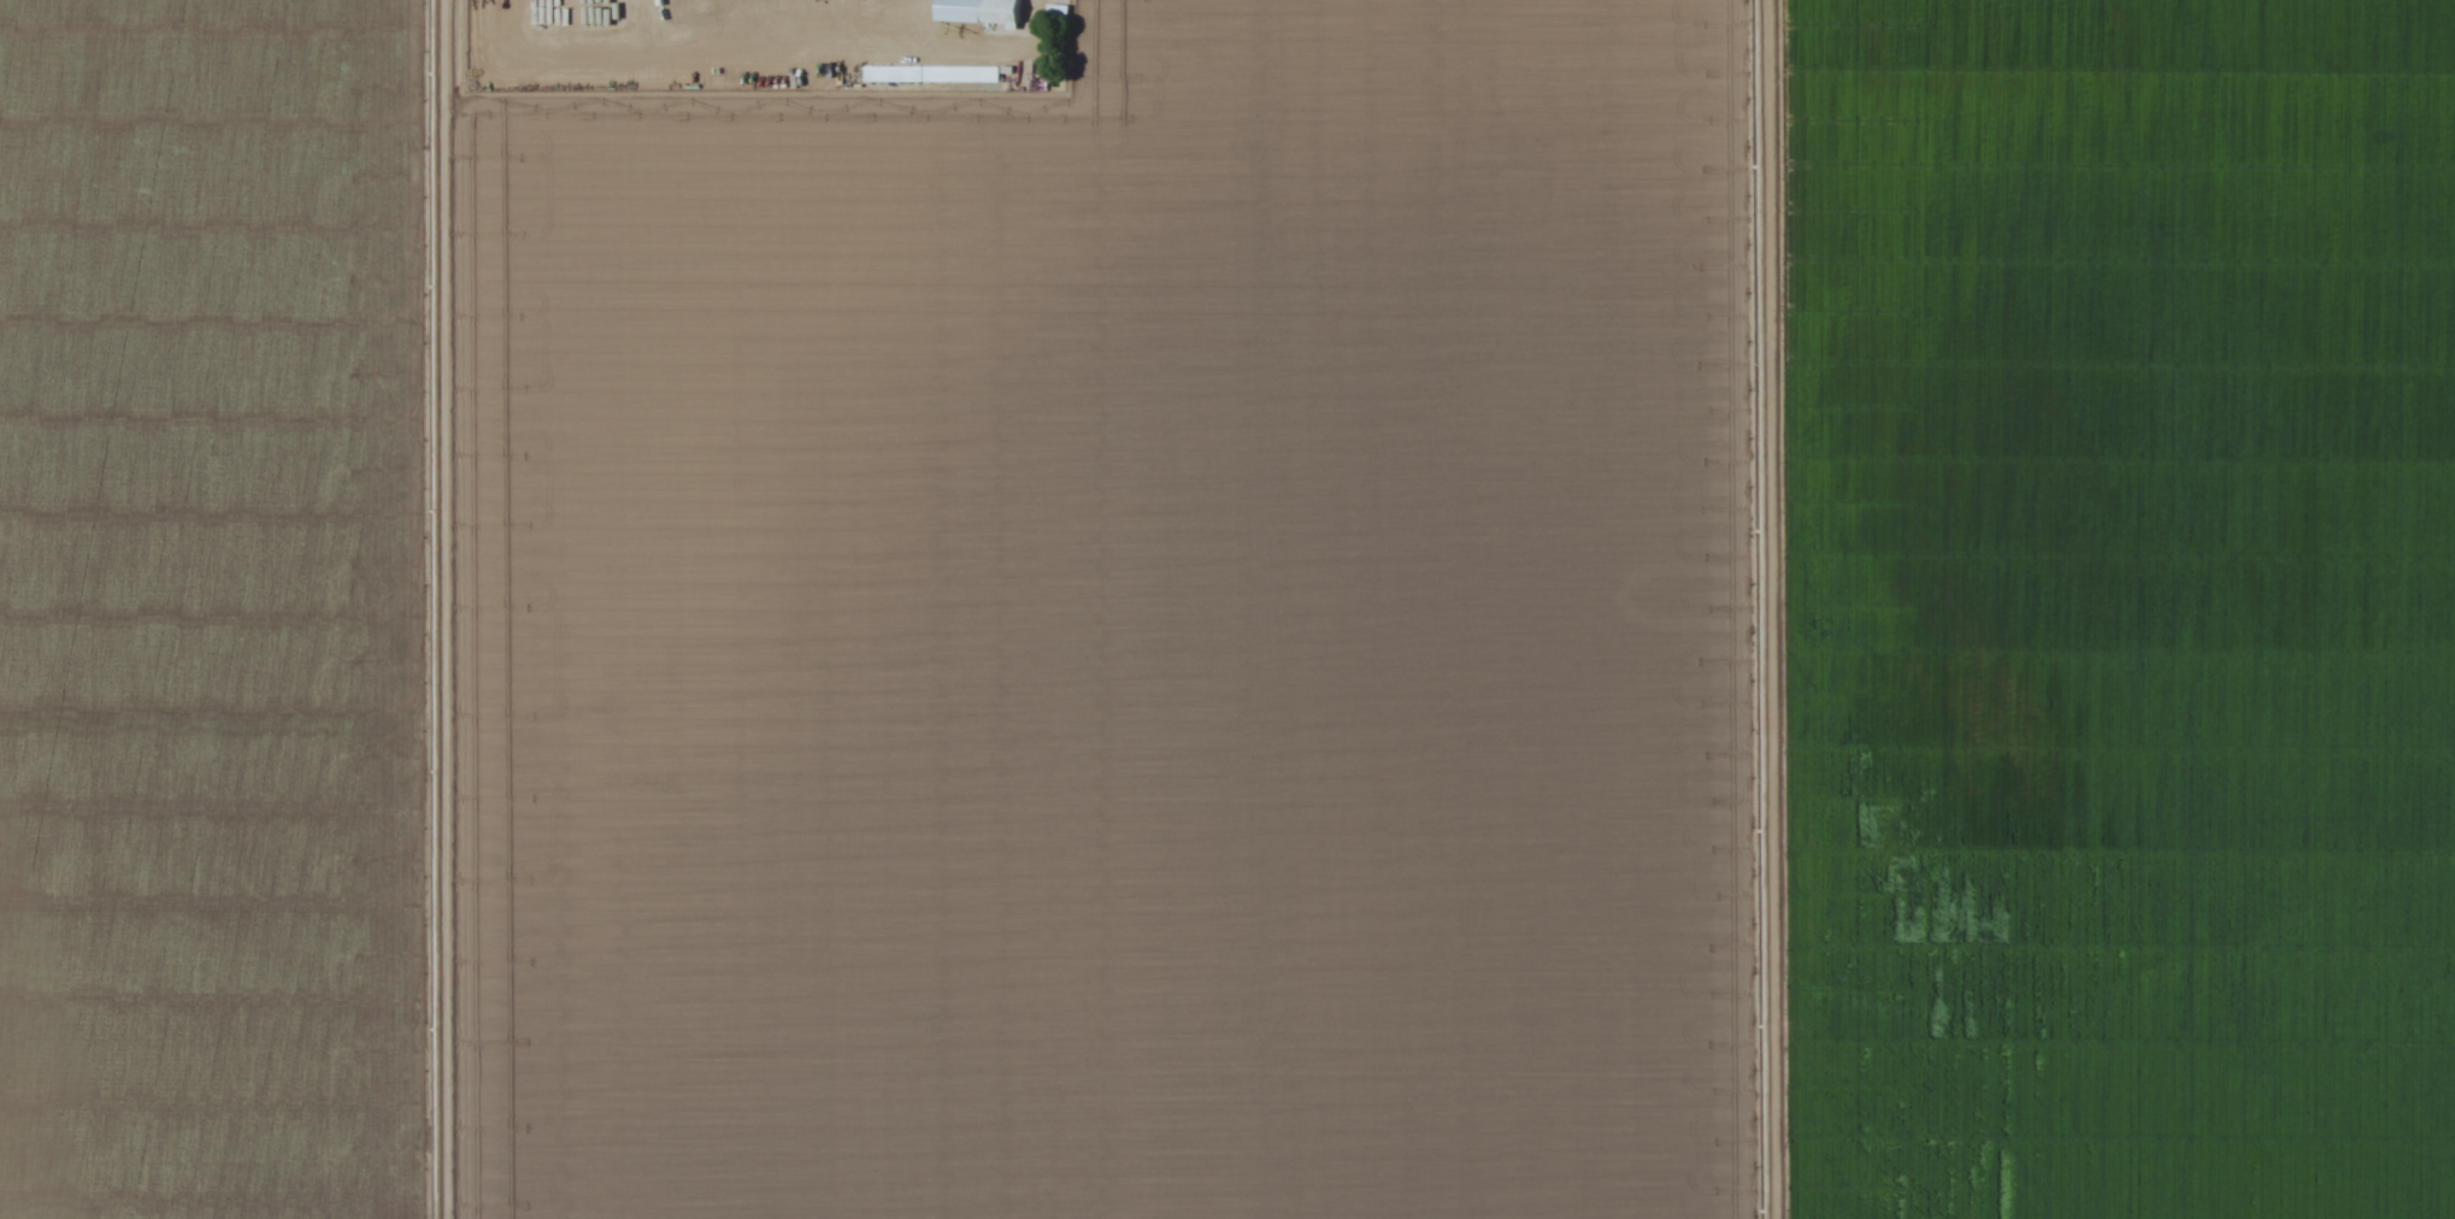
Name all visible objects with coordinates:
building: (978, 11)

